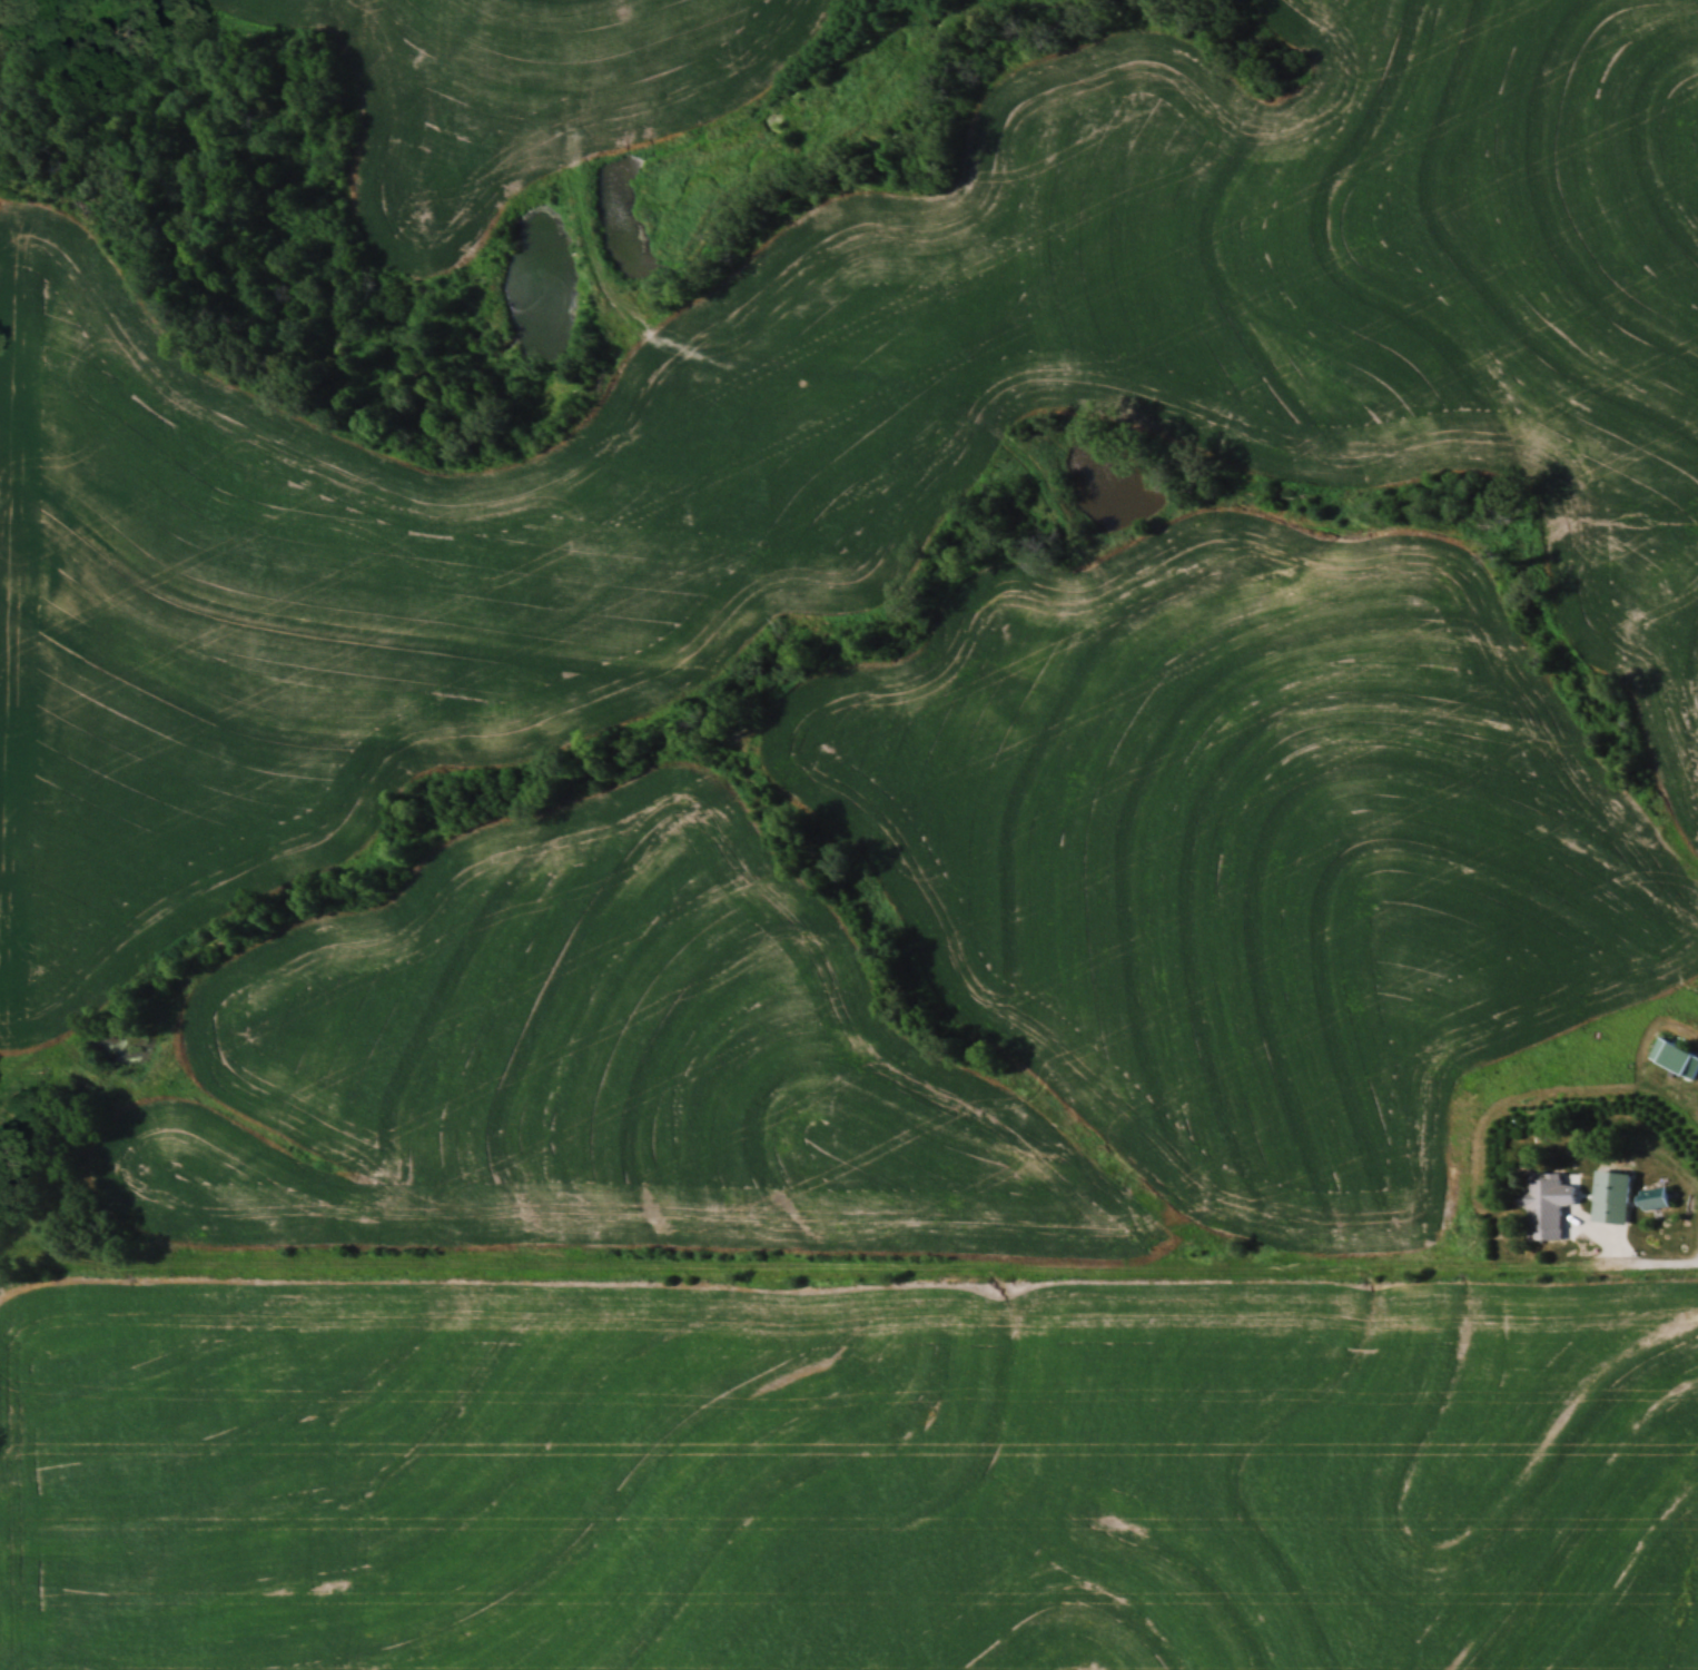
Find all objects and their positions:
road: (1696, 1098)
road: (1661, 1157)
building: (1657, 1198)
building: (1549, 1202)
road: (899, 1268)

